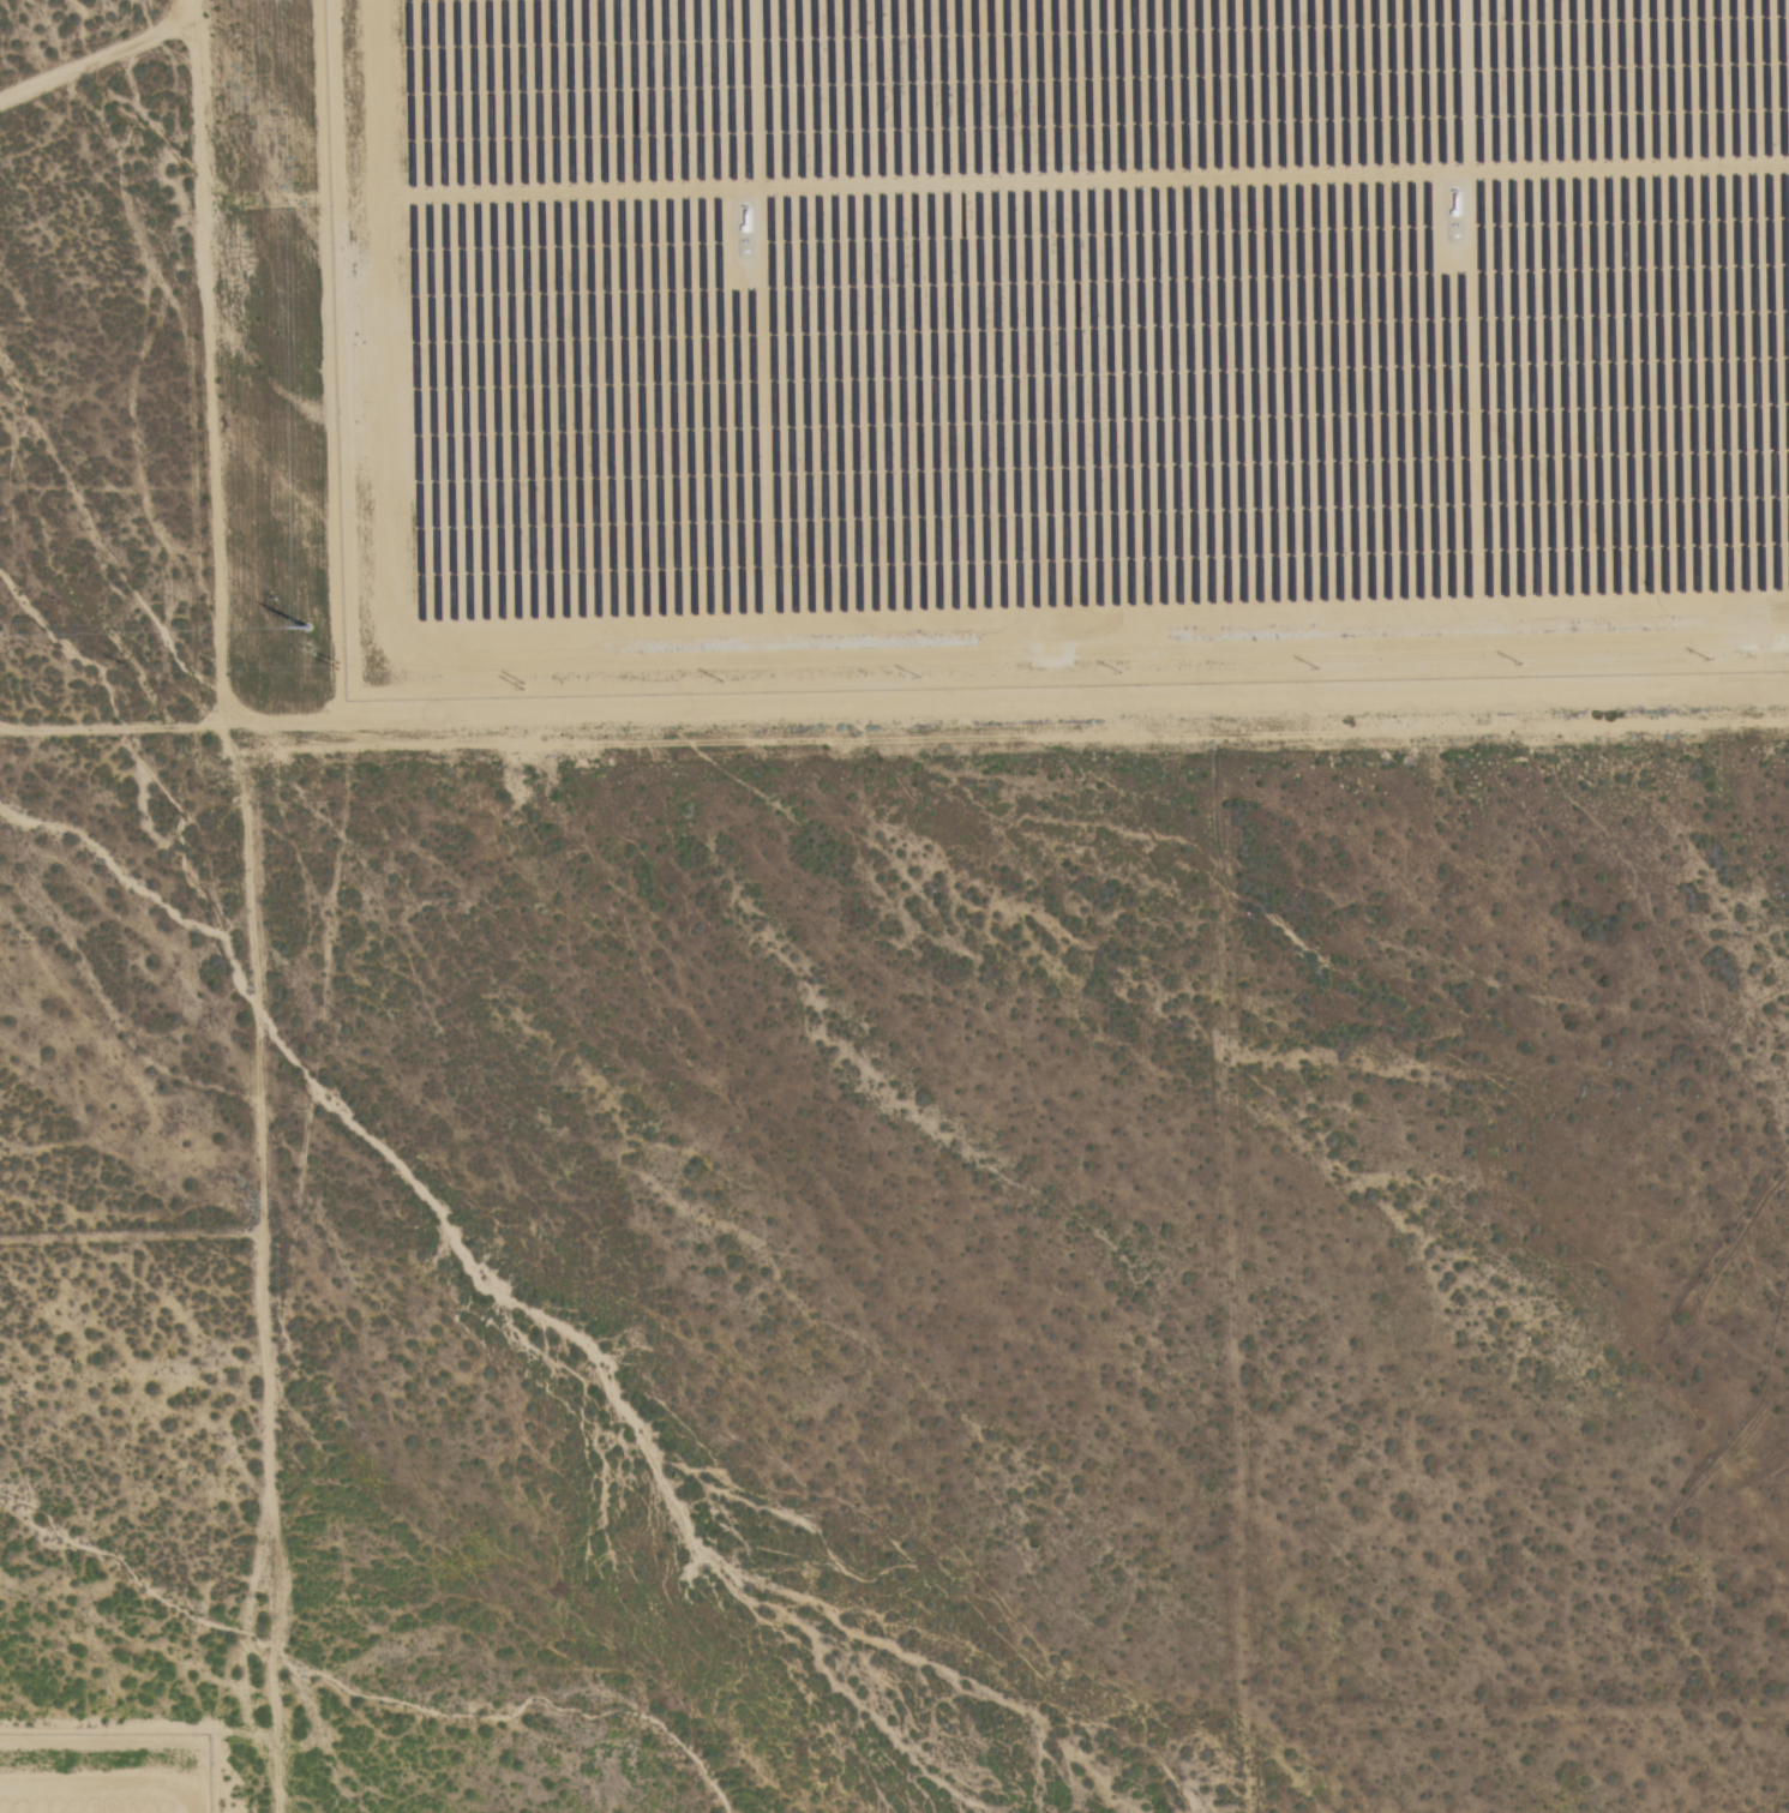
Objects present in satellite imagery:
road: (198, 17)
road: (100, 74)
road: (196, 176)
solar farm: (1058, 344)
road: (212, 554)
road: (1032, 733)
road: (1232, 1272)
road: (262, 1277)
road: (1520, 1733)
solar farm: (107, 1773)

